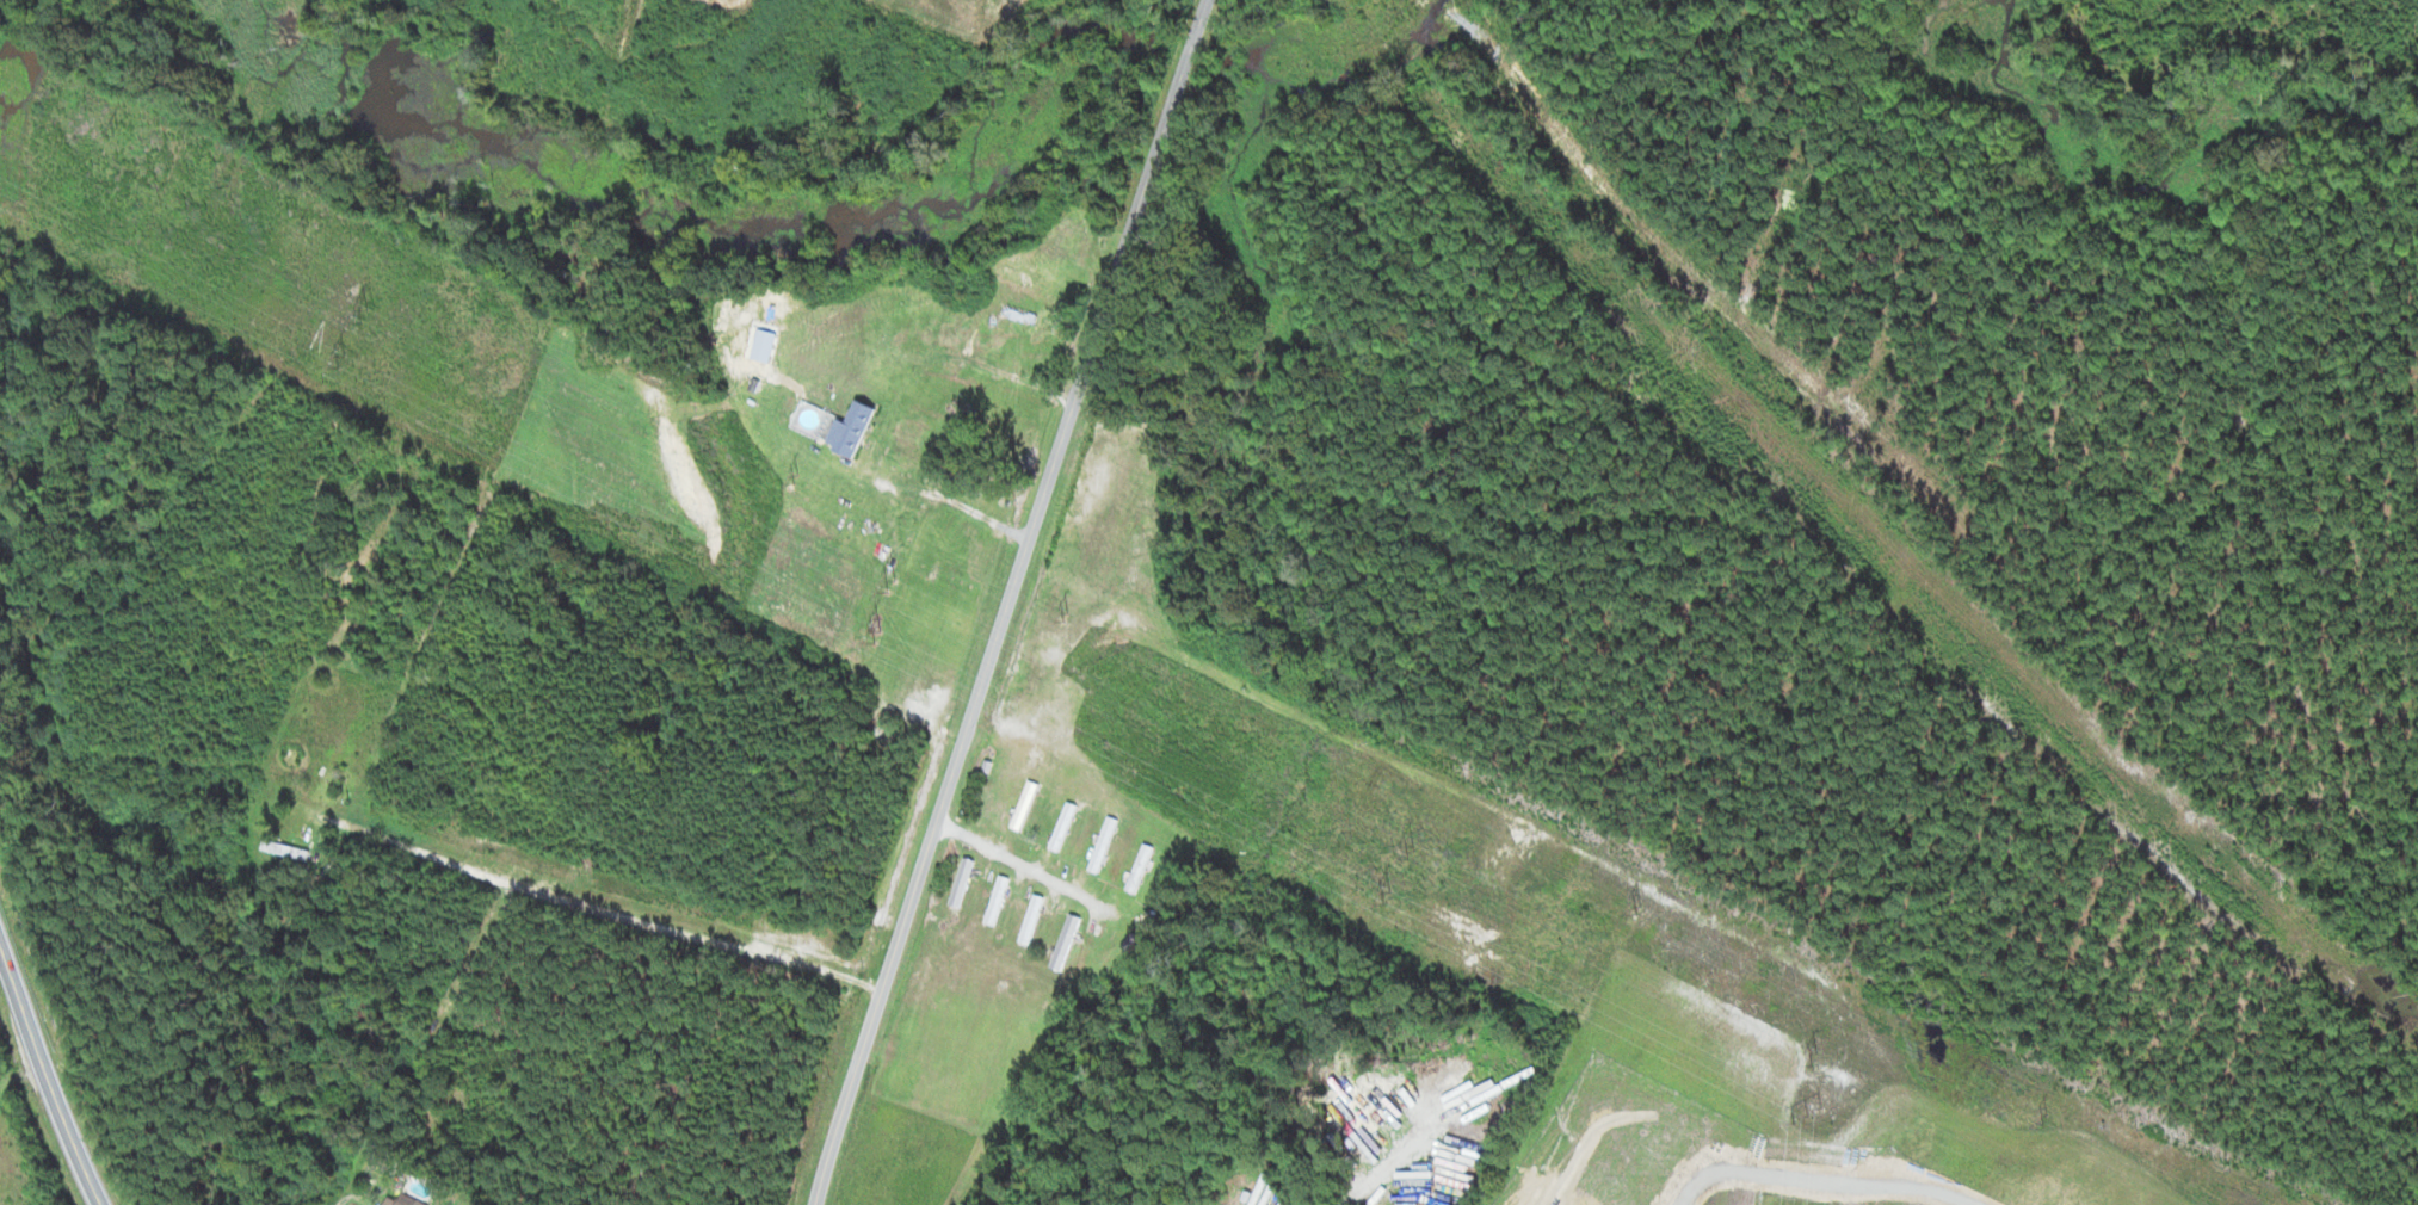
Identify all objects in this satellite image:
power tower: (123, 130)
power tower: (308, 223)
power tower: (362, 310)
building: (1020, 314)
power tower: (346, 363)
building: (964, 424)
building: (847, 430)
power tower: (804, 482)
power tower: (890, 582)
road: (1008, 601)
power tower: (1069, 613)
power tower: (878, 634)
building: (344, 765)
building: (1023, 803)
building: (1061, 823)
building: (1100, 841)
power tower: (1413, 849)
building: (1137, 865)
road: (1023, 866)
building: (960, 879)
power tower: (1387, 890)
building: (994, 897)
power tower: (1641, 906)
building: (1029, 916)
building: (1062, 939)
power tower: (1813, 1057)
road: (47, 1070)
power tower: (1808, 1111)
power tower: (2046, 1116)
building: (411, 1201)

